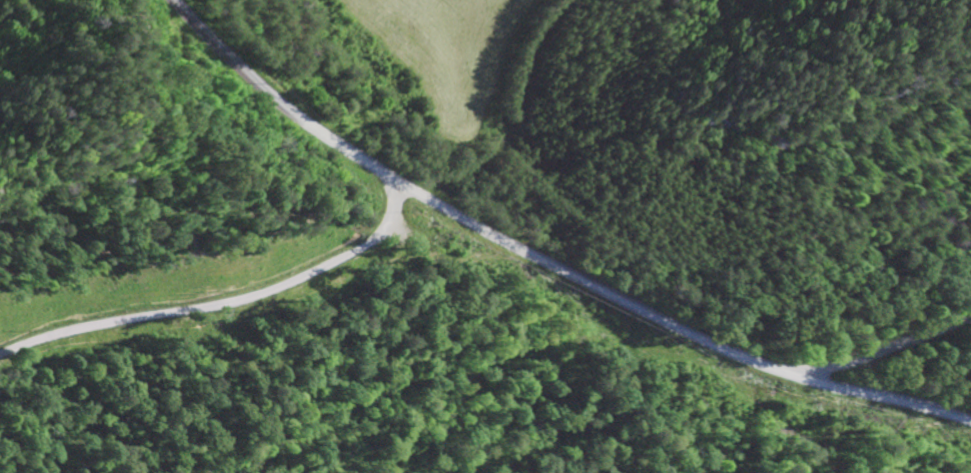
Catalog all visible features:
road: (274, 106)
road: (593, 283)
road: (220, 305)
road: (884, 351)
road: (883, 398)

